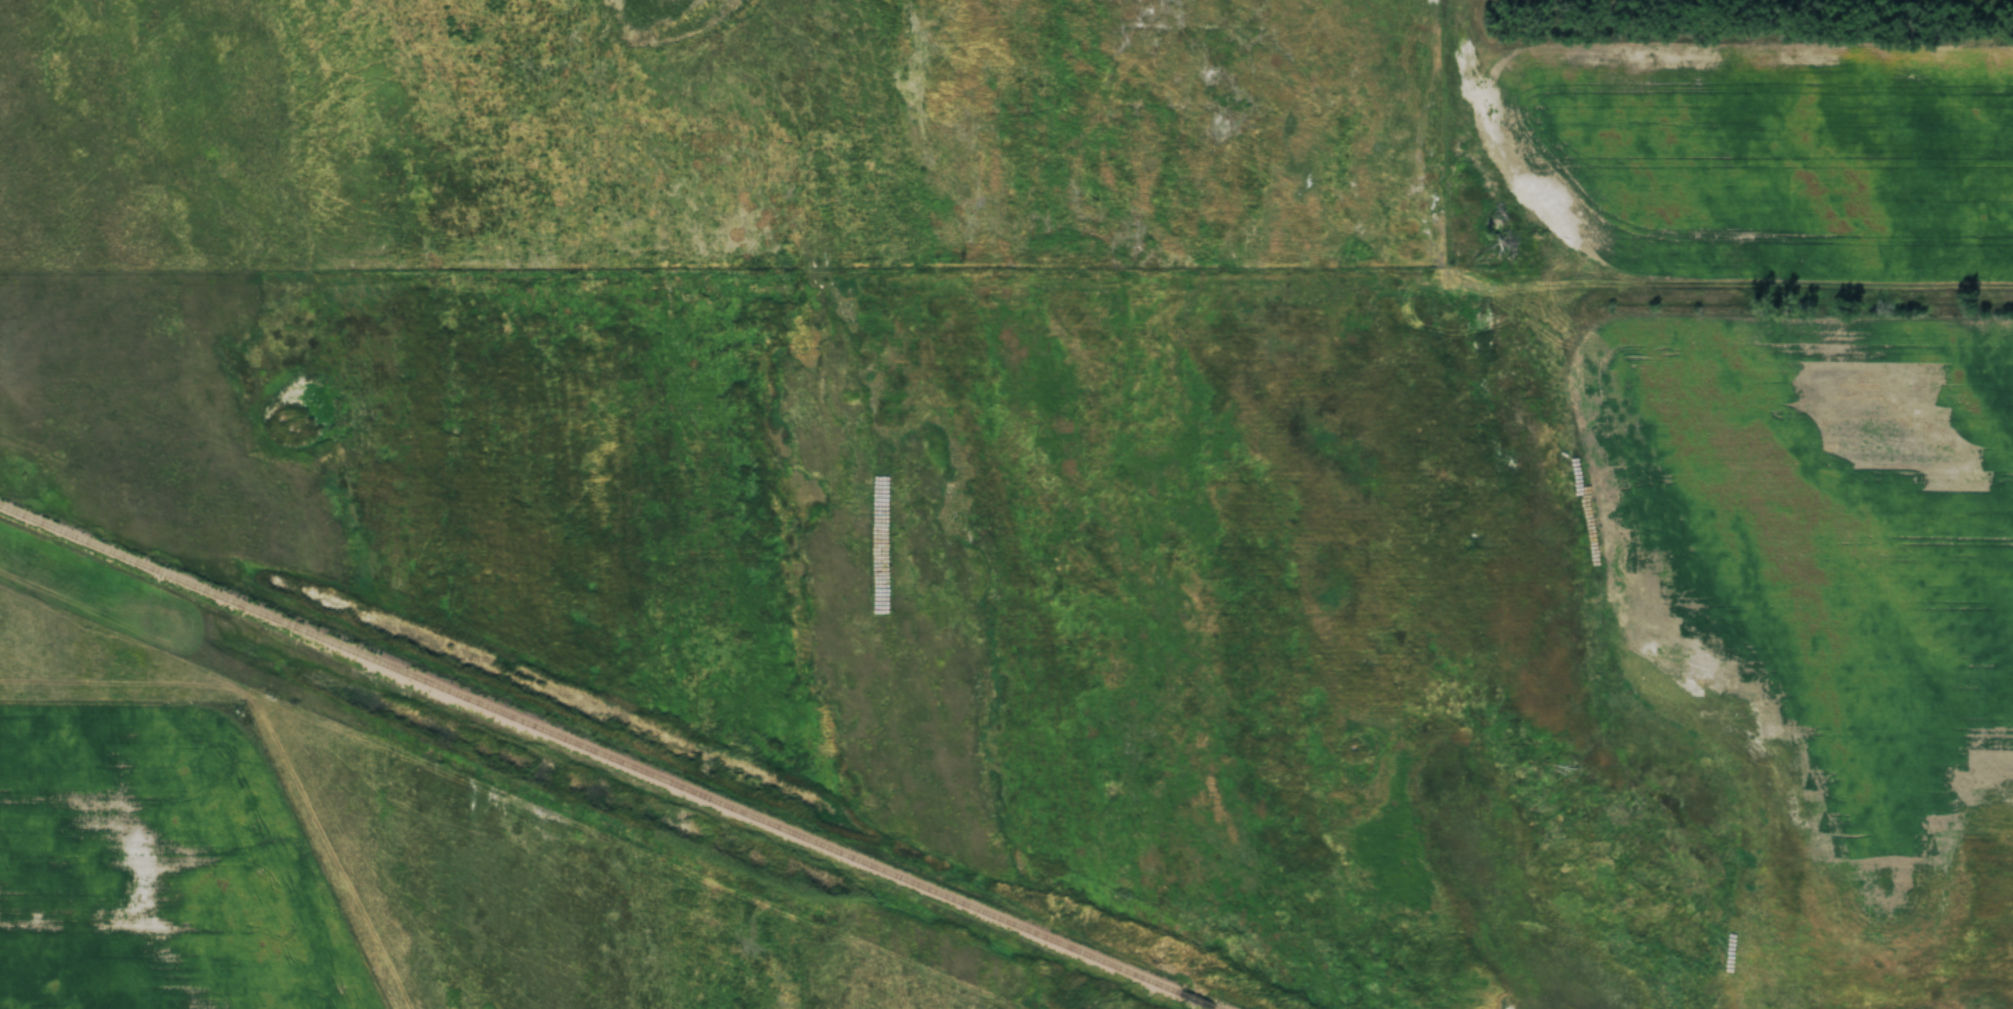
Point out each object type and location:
railway: (589, 748)
railway: (1195, 999)
railway: (1215, 1007)

